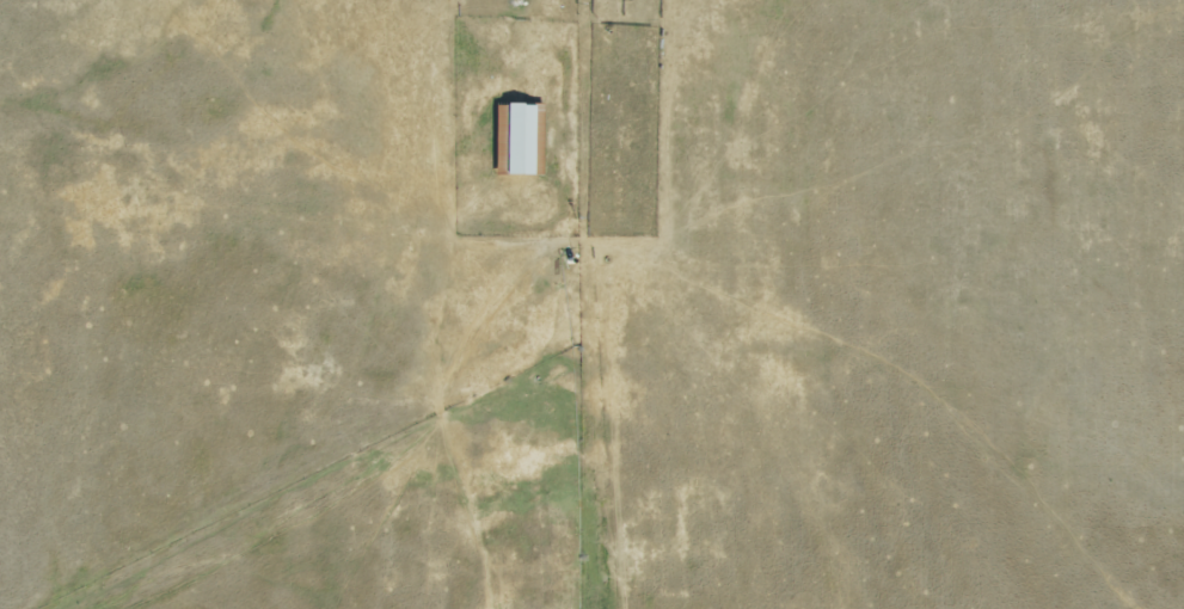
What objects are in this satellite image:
building: (517, 141)

